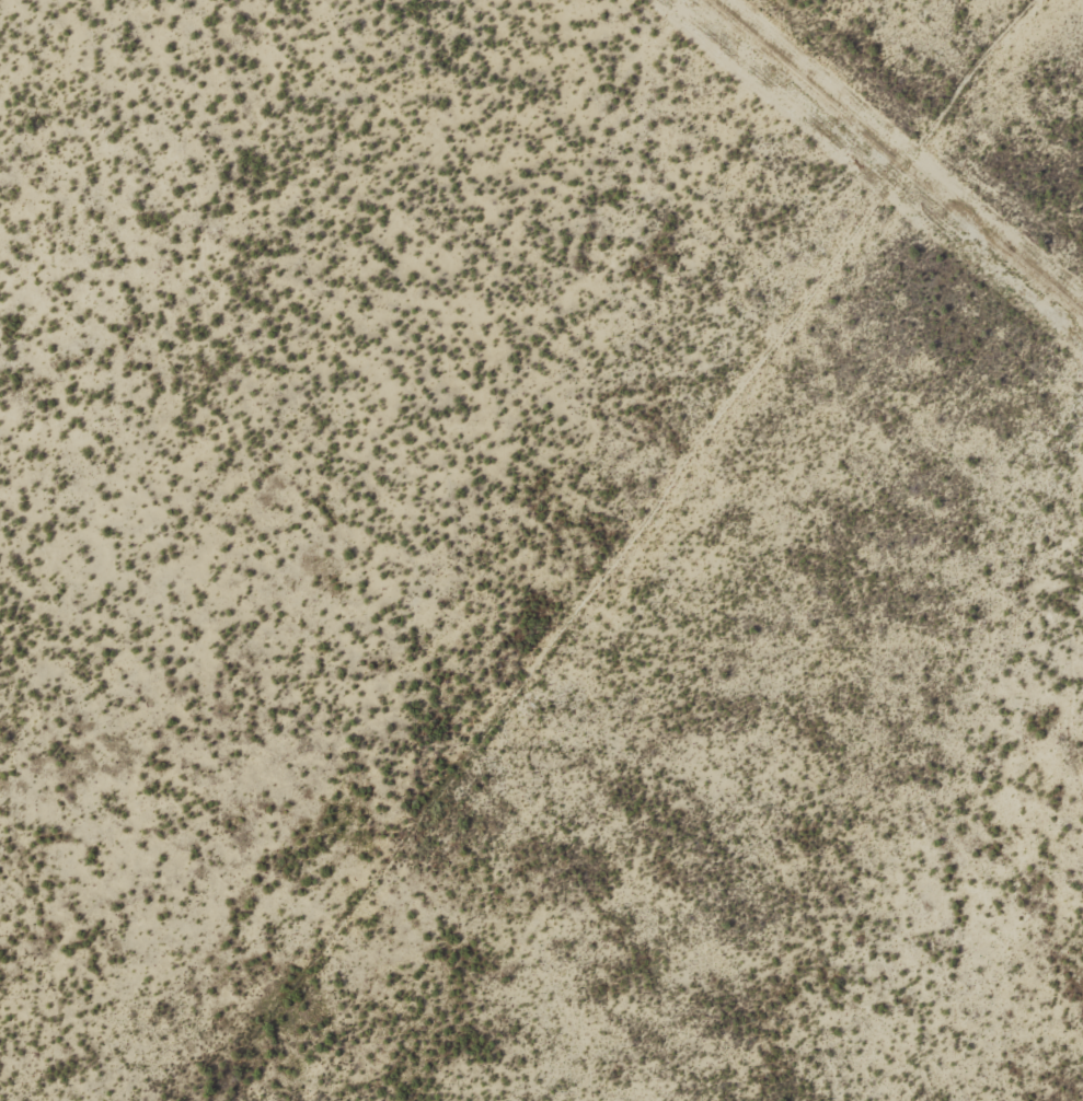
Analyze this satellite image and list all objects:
road: (920, 182)

